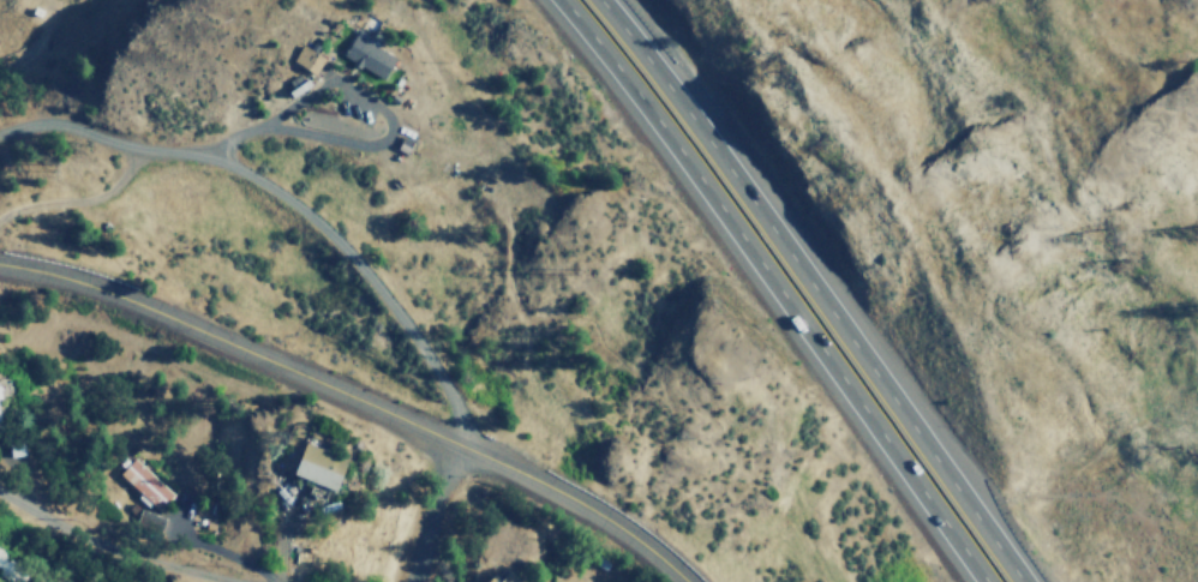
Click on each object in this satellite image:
building: (365, 54)
building: (305, 59)
road: (287, 200)
road: (767, 288)
road: (815, 288)
road: (353, 396)
building: (0, 430)
building: (315, 464)
building: (143, 484)
road: (437, 512)
road: (115, 535)
building: (499, 578)

